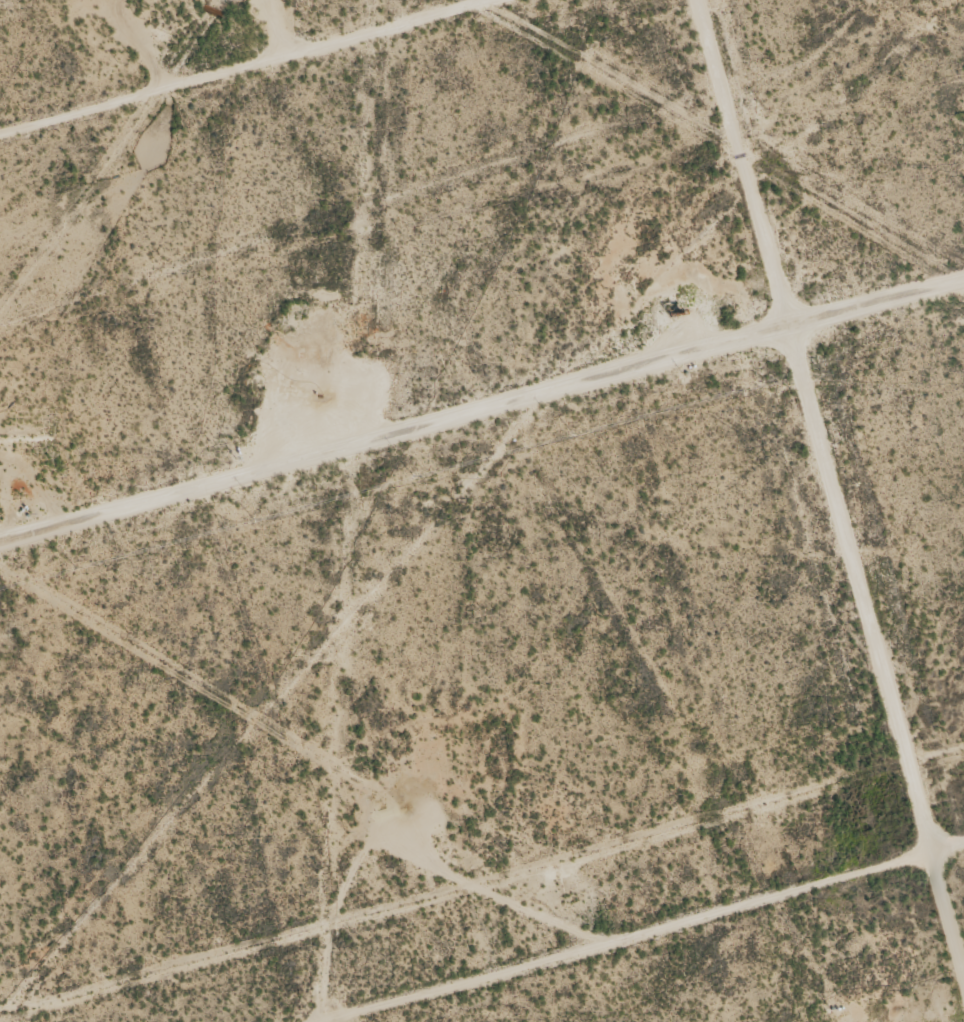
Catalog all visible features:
road: (482, 435)
road: (779, 510)

